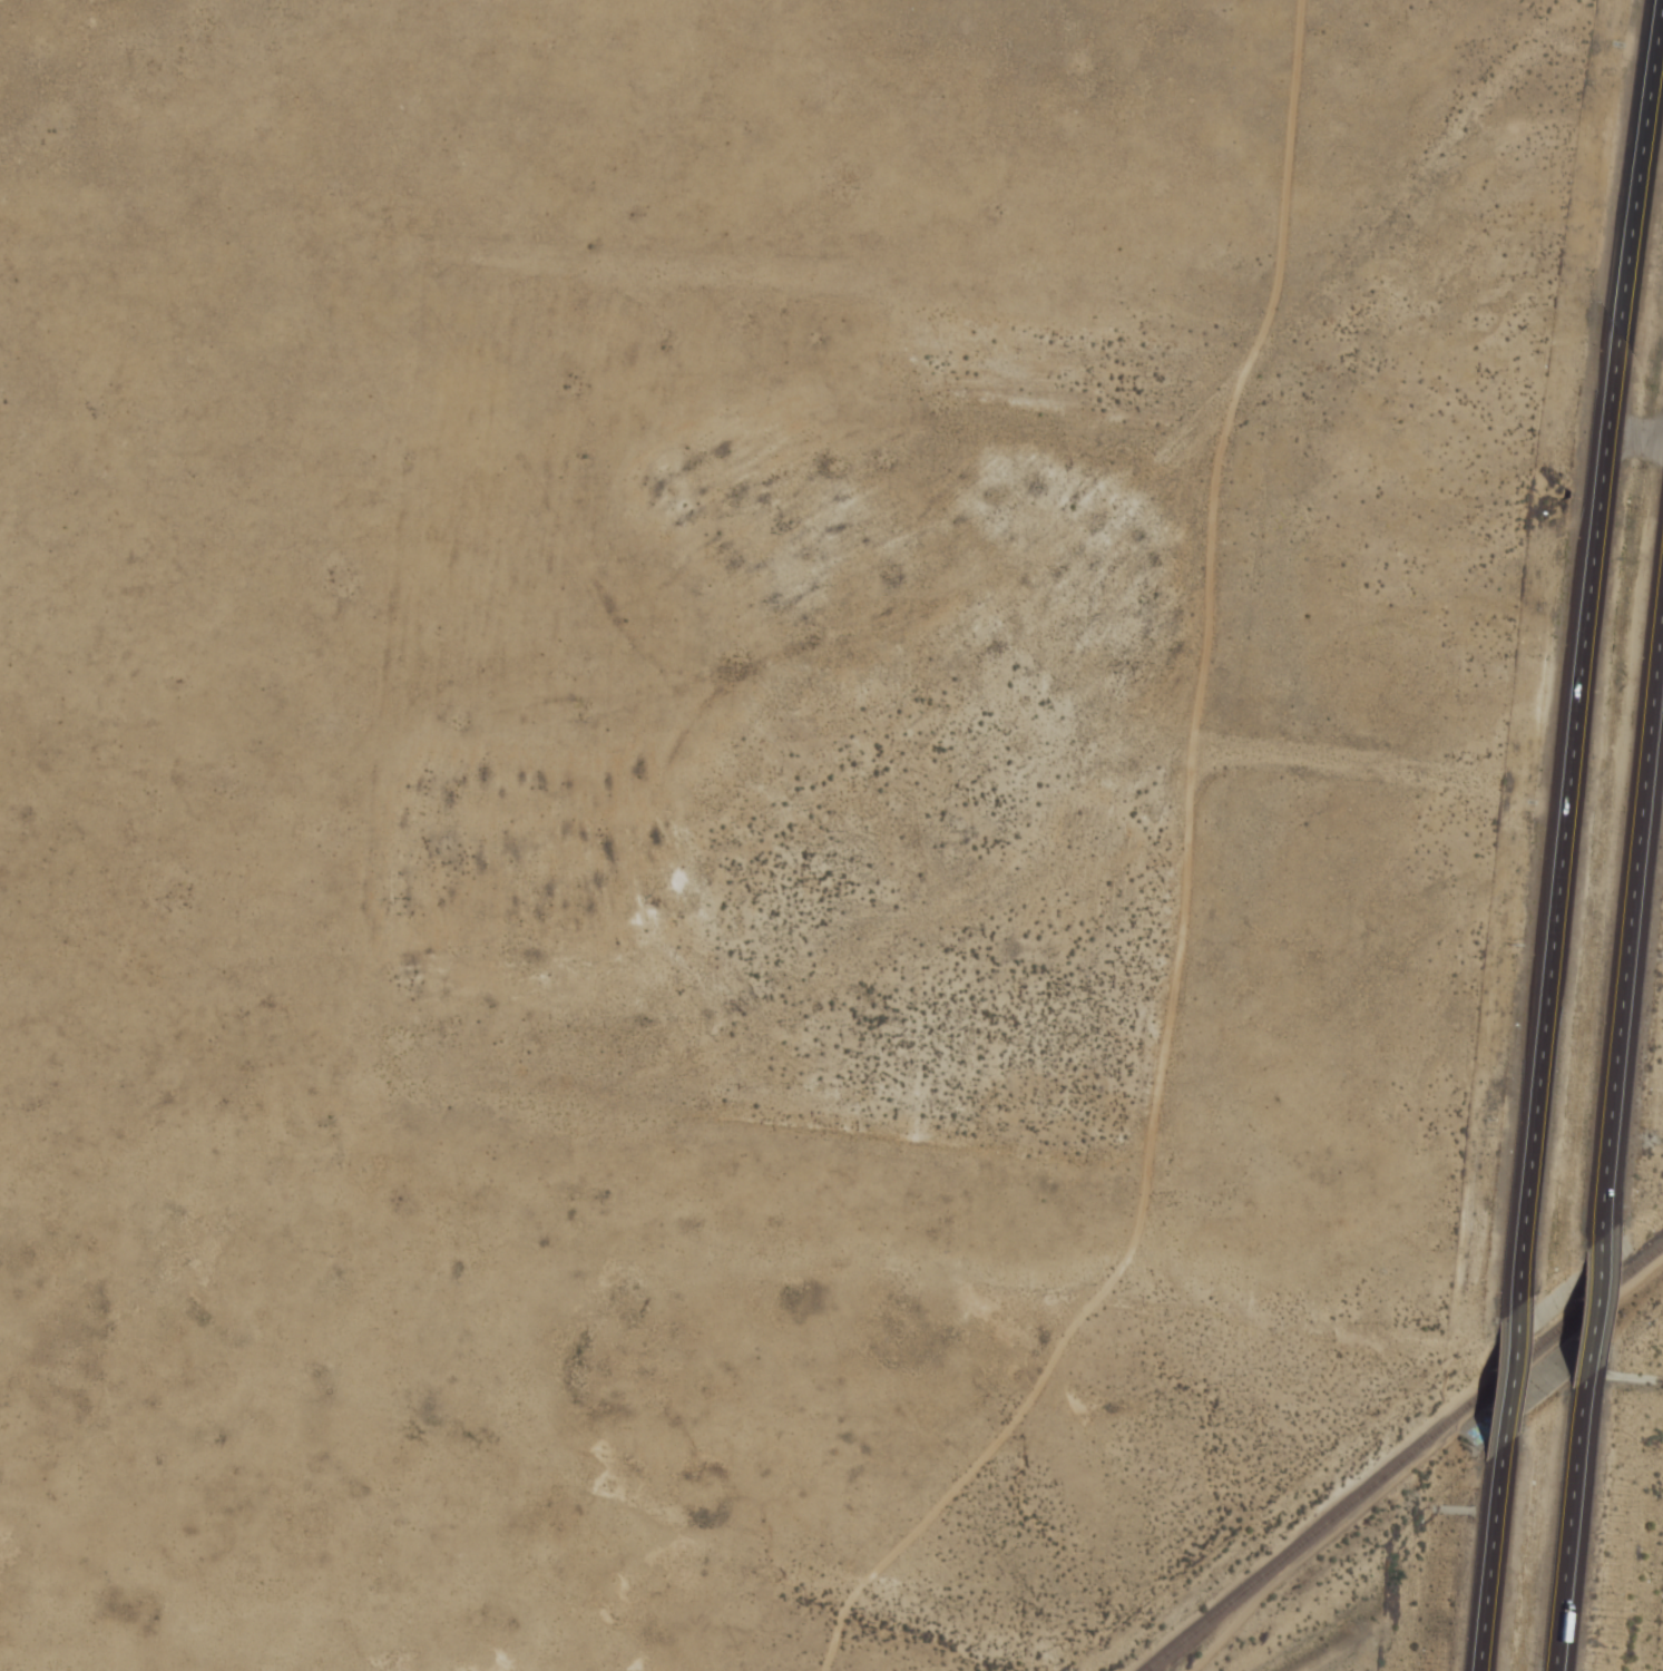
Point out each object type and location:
road: (1581, 676)
road: (1628, 934)
road: (1592, 1315)
road: (1506, 1382)
railway: (1403, 1458)
railway: (1525, 1489)
road: (1569, 1528)
road: (1486, 1563)
quarry: (1659, 1640)

